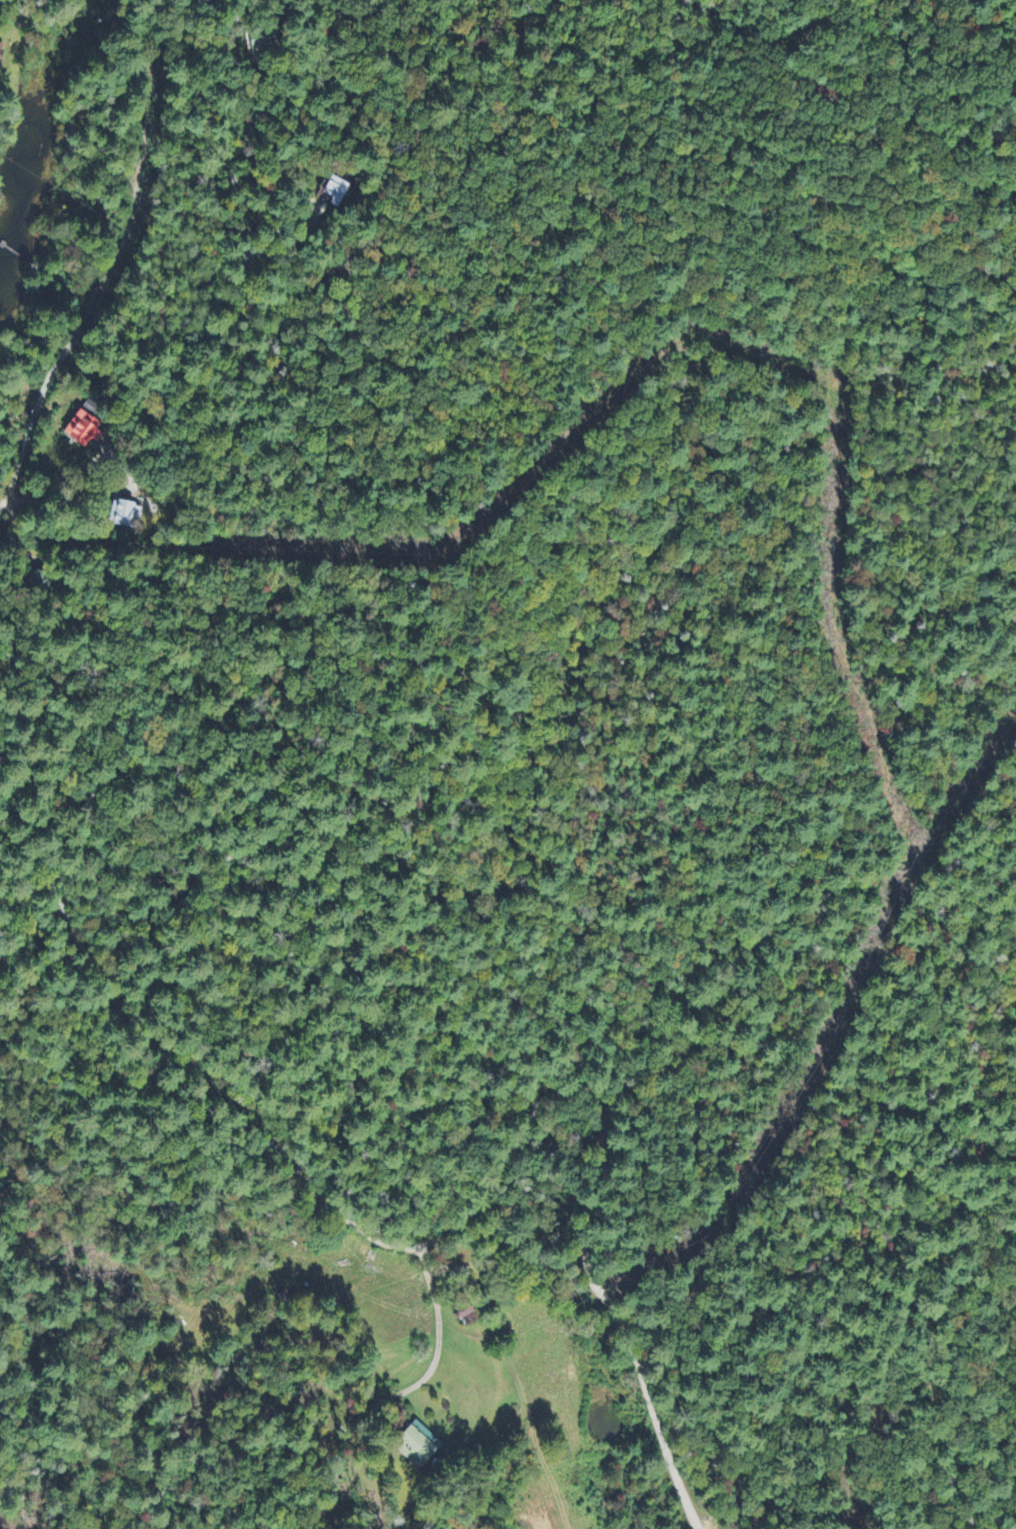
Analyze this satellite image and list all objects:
building: (1, 53)
road: (112, 270)
building: (84, 431)
building: (127, 516)
road: (159, 1041)
road: (586, 1202)
road: (435, 1352)
building: (421, 1447)
road: (983, 1486)

